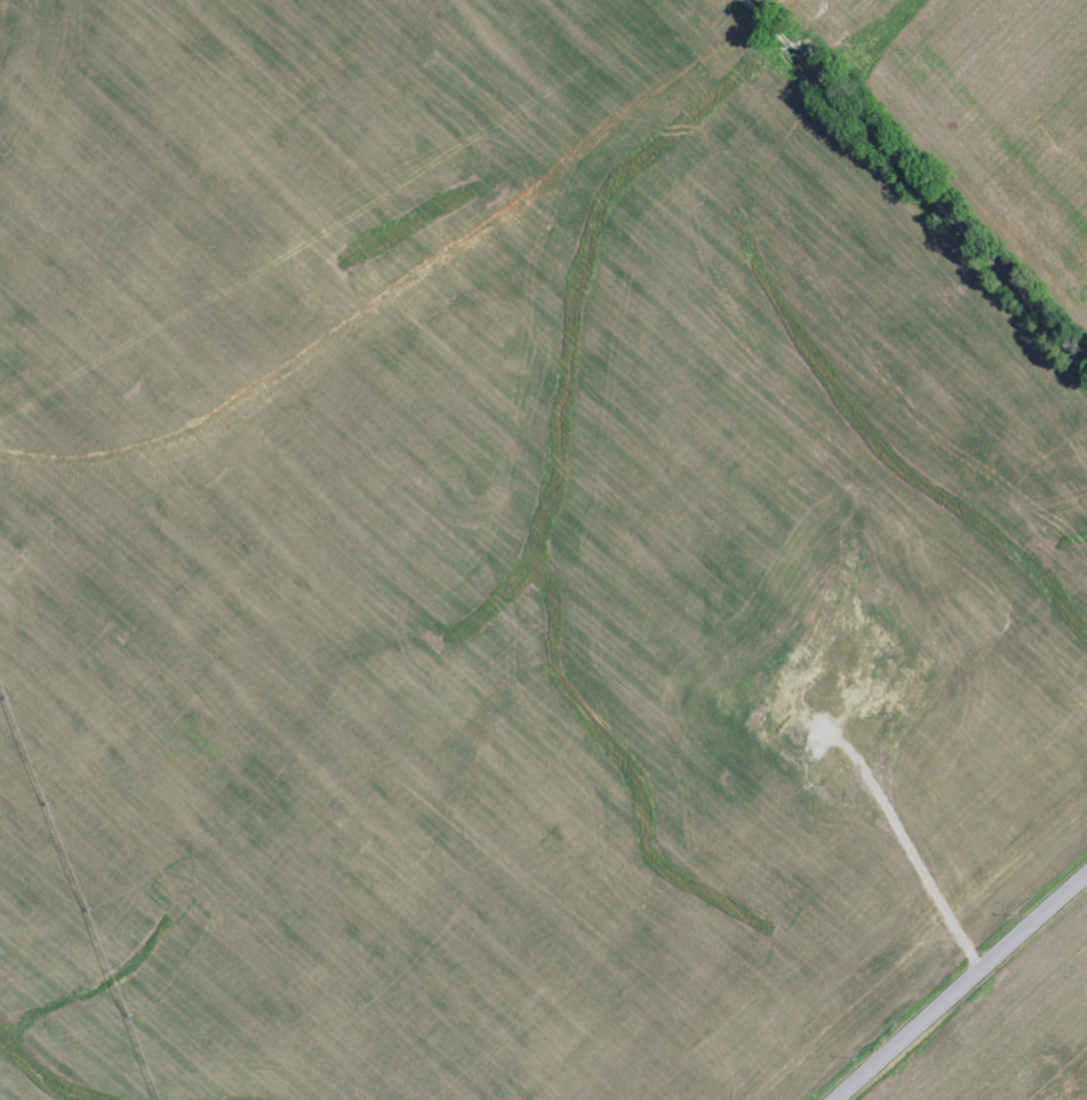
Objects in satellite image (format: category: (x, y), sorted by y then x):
road: (919, 183)
building: (824, 689)
road: (962, 987)

